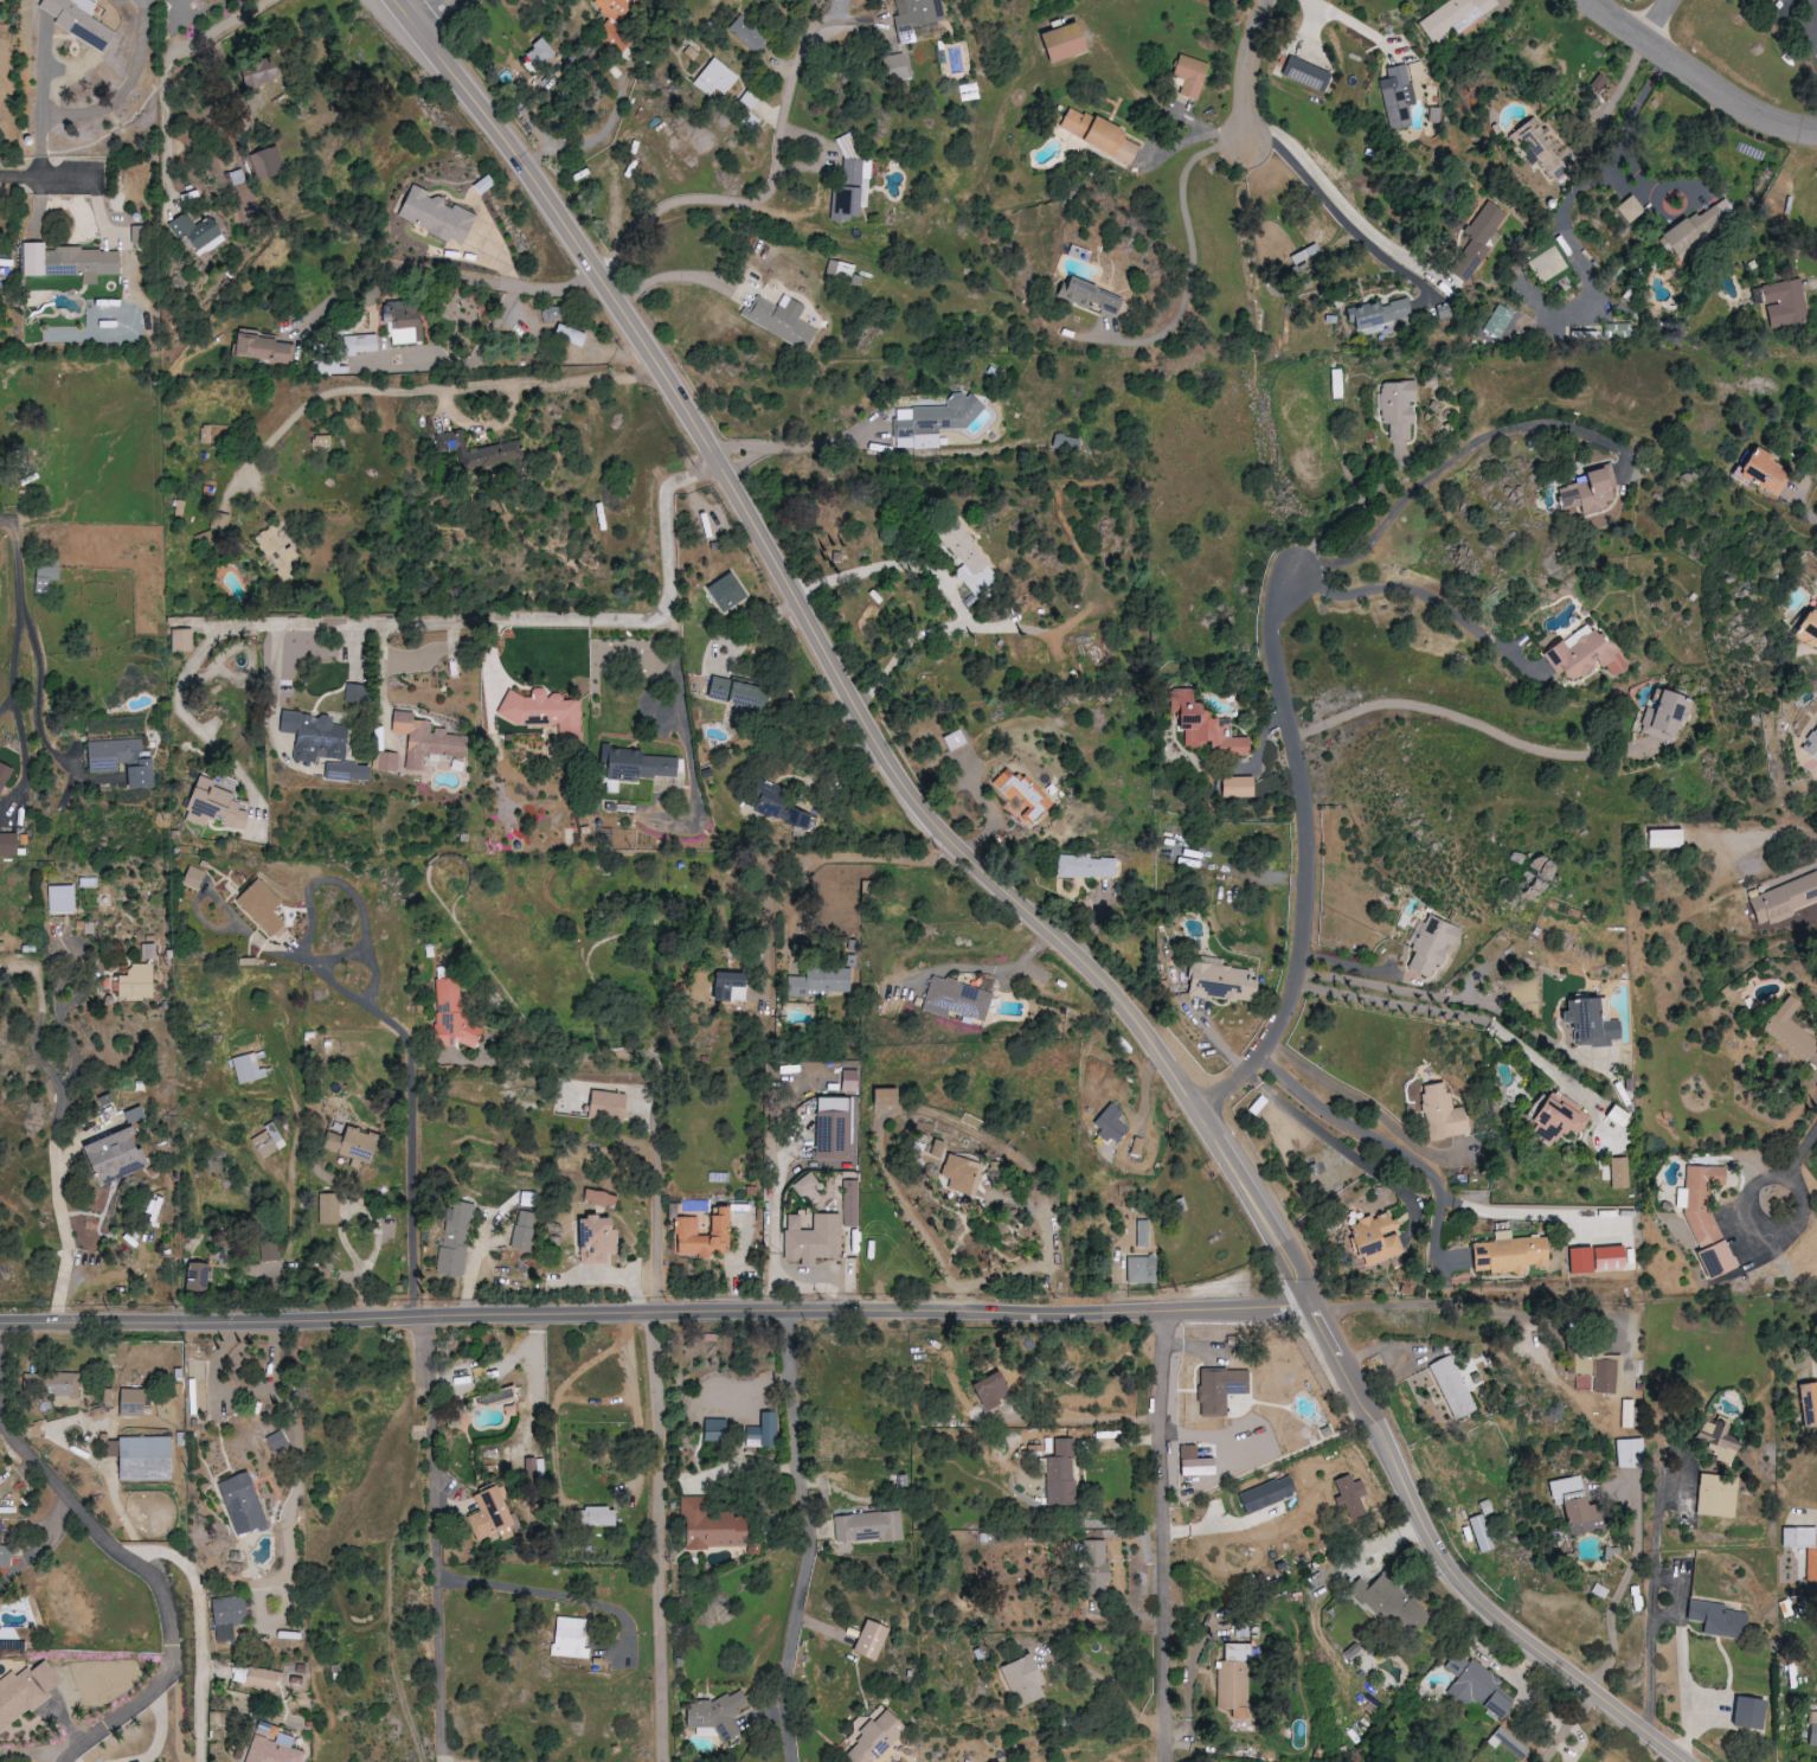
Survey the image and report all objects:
road: (1816, 1)
building: (615, 8)
building: (917, 17)
building: (1455, 17)
building: (77, 20)
road: (1651, 20)
road: (454, 23)
road: (1359, 26)
building: (749, 34)
building: (1060, 44)
building: (539, 53)
road: (1251, 60)
building: (894, 68)
building: (255, 72)
building: (1304, 73)
road: (166, 75)
building: (1189, 76)
building: (715, 78)
road: (1694, 82)
road: (127, 89)
building: (969, 91)
building: (1397, 97)
road: (43, 100)
building: (1098, 135)
road: (598, 142)
building: (847, 146)
building: (1539, 148)
road: (1157, 150)
building: (267, 162)
road: (778, 166)
road: (49, 175)
road: (1638, 177)
road: (1586, 181)
building: (850, 191)
building: (1630, 210)
building: (434, 216)
road: (1340, 216)
building: (1691, 230)
building: (198, 235)
building: (1477, 242)
road: (1194, 246)
building: (1305, 254)
building: (70, 262)
road: (682, 274)
road: (456, 280)
road: (1815, 284)
building: (1087, 295)
building: (1780, 302)
building: (551, 314)
building: (1379, 315)
building: (782, 320)
building: (1498, 321)
building: (569, 335)
building: (359, 344)
building: (263, 350)
building: (1335, 384)
road: (419, 390)
building: (1397, 409)
building: (938, 421)
building: (980, 422)
building: (321, 441)
building: (1065, 443)
road: (794, 446)
building: (479, 453)
road: (1447, 464)
building: (1763, 472)
building: (1588, 489)
road: (1806, 507)
road: (1350, 508)
building: (277, 550)
building: (965, 557)
road: (17, 566)
building: (725, 591)
road: (951, 594)
road: (1427, 595)
road: (545, 621)
road: (212, 628)
building: (1806, 629)
building: (181, 640)
building: (1582, 653)
road: (18, 654)
road: (41, 688)
building: (733, 692)
building: (354, 693)
road: (7, 705)
building: (542, 711)
building: (1664, 716)
road: (1470, 719)
road: (194, 724)
building: (1203, 728)
building: (314, 736)
building: (952, 739)
building: (422, 742)
road: (687, 744)
building: (1810, 744)
road: (26, 755)
building: (120, 761)
building: (387, 762)
building: (635, 764)
building: (347, 771)
building: (2, 775)
building: (1237, 787)
building: (1021, 793)
building: (213, 806)
building: (775, 806)
building: (1664, 838)
building: (7, 844)
road: (860, 853)
road: (1308, 856)
building: (1085, 866)
building: (192, 877)
building: (60, 898)
building: (1784, 899)
building: (259, 905)
road: (1016, 906)
building: (1431, 946)
building: (147, 950)
building: (820, 980)
building: (136, 982)
building: (727, 986)
building: (956, 999)
road: (1460, 1014)
building: (452, 1015)
building: (1587, 1023)
building: (1790, 1036)
building: (246, 1069)
building: (849, 1081)
building: (882, 1096)
building: (606, 1104)
building: (1440, 1113)
building: (1616, 1115)
building: (1555, 1119)
building: (1110, 1122)
road: (56, 1127)
road: (655, 1128)
road: (410, 1134)
building: (349, 1143)
road: (1393, 1145)
building: (111, 1156)
road: (1794, 1164)
building: (952, 1173)
building: (1618, 1173)
building: (803, 1184)
building: (526, 1199)
building: (601, 1199)
building: (328, 1207)
building: (152, 1210)
road: (776, 1210)
road: (910, 1210)
road: (1526, 1212)
building: (1706, 1219)
building: (717, 1220)
building: (521, 1229)
building: (810, 1237)
building: (1374, 1238)
building: (593, 1239)
building: (694, 1239)
building: (454, 1241)
building: (268, 1251)
building: (1508, 1255)
building: (1607, 1258)
road: (1044, 1261)
building: (1139, 1269)
road: (778, 1270)
building: (194, 1277)
road: (798, 1284)
road: (1470, 1306)
road: (659, 1315)
road: (6, 1351)
building: (1603, 1376)
building: (1452, 1386)
building: (989, 1390)
road: (242, 1391)
building: (1219, 1391)
building: (194, 1396)
building: (129, 1402)
building: (1808, 1403)
building: (1626, 1414)
building: (713, 1429)
building: (762, 1431)
building: (1715, 1439)
building: (277, 1442)
building: (1630, 1453)
building: (142, 1457)
building: (1192, 1462)
road: (745, 1466)
building: (1060, 1474)
building: (1266, 1494)
building: (1351, 1495)
building: (1716, 1495)
building: (240, 1504)
road: (291, 1505)
building: (1572, 1505)
building: (1485, 1507)
building: (488, 1513)
building: (593, 1517)
building: (710, 1525)
building: (867, 1527)
building: (1481, 1533)
road: (1161, 1536)
road: (655, 1537)
road: (809, 1537)
road: (439, 1539)
building: (1803, 1548)
road: (1368, 1550)
building: (4, 1557)
building: (1093, 1563)
road: (160, 1590)
building: (1599, 1590)
road: (1675, 1590)
road: (550, 1593)
building: (1388, 1602)
road: (1664, 1613)
building: (226, 1617)
building: (1716, 1619)
building: (570, 1638)
building: (869, 1641)
building: (1234, 1675)
building: (261, 1679)
building: (1021, 1681)
road: (1107, 1684)
building: (1475, 1686)
building: (24, 1691)
road: (190, 1699)
building: (718, 1713)
building: (1747, 1713)
building: (1240, 1716)
road: (1568, 1728)
building: (1812, 1730)
building: (873, 1737)
building: (1508, 1742)
building: (270, 1750)
road: (27, 1755)

